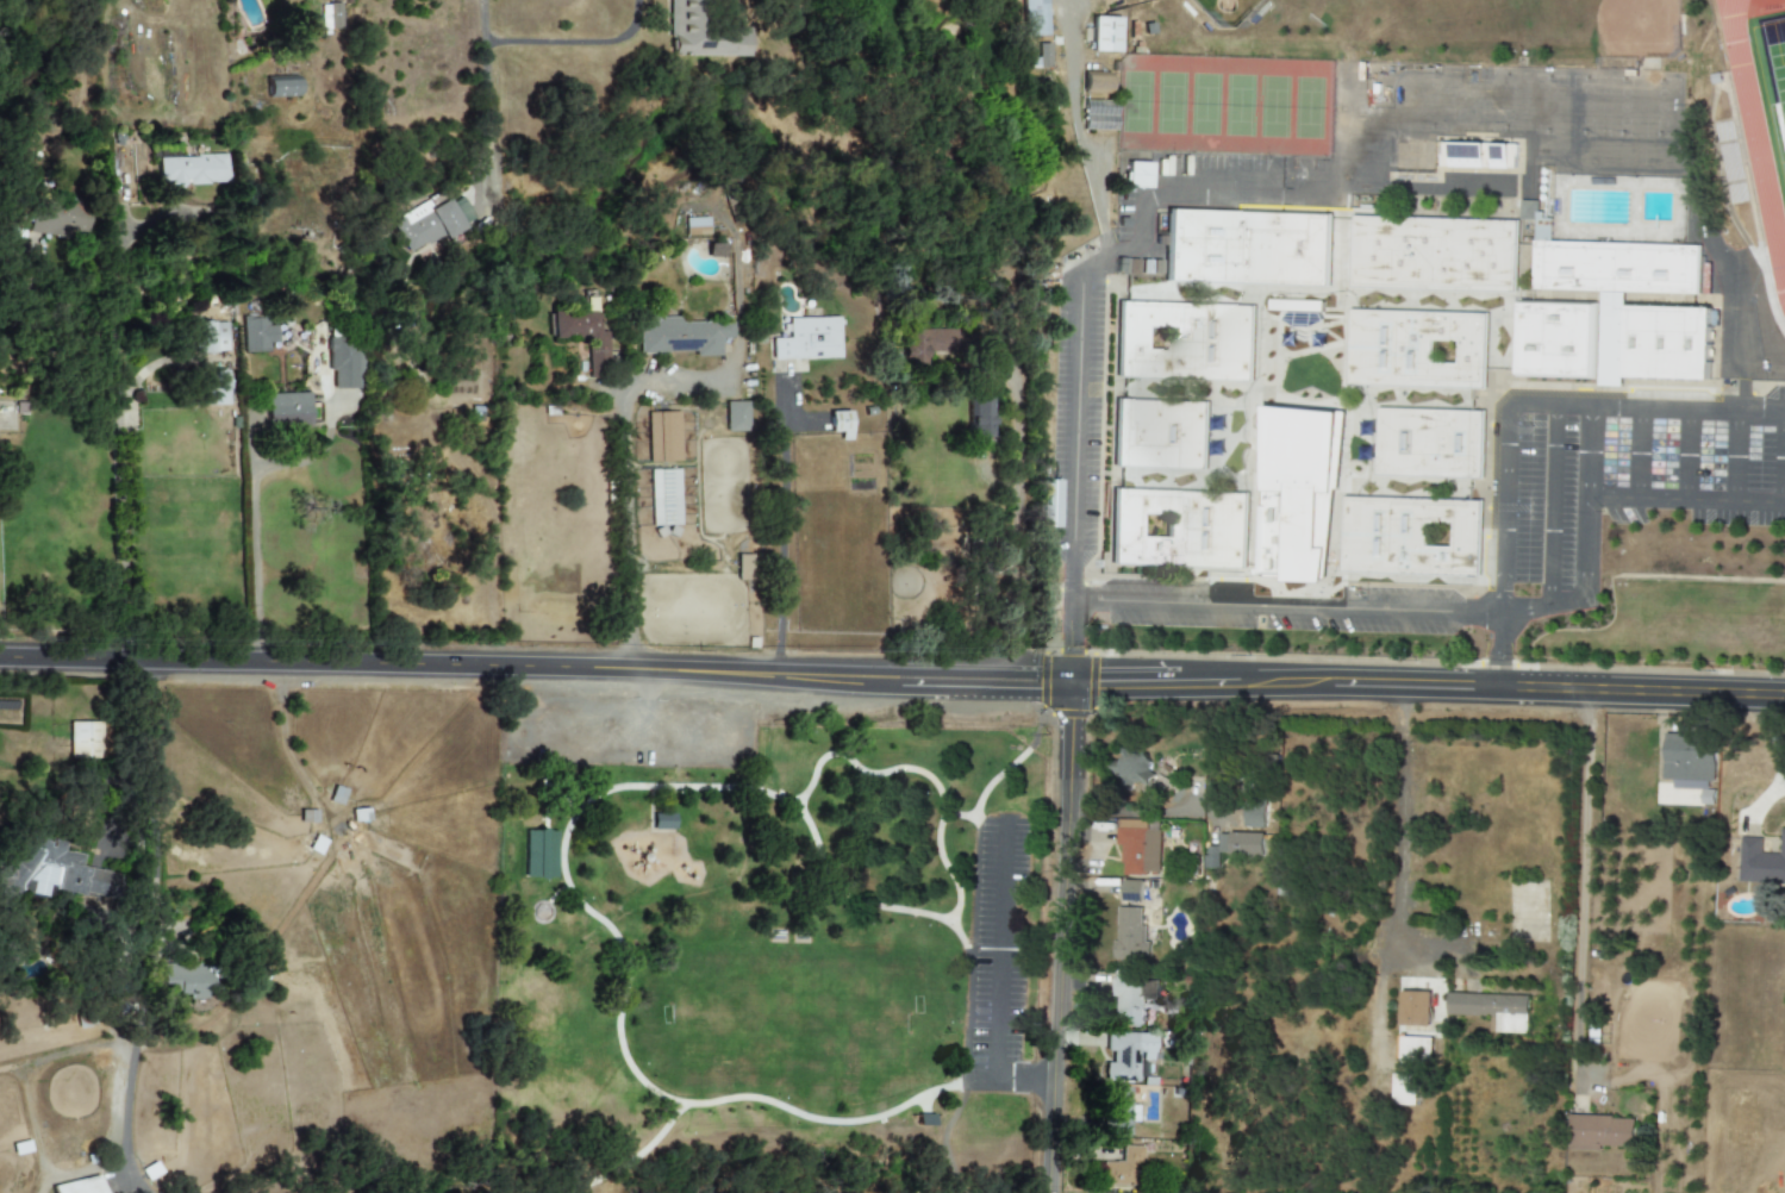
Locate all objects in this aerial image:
road: (121, 0)
building: (330, 17)
building: (1032, 18)
road: (482, 21)
building: (700, 33)
building: (1105, 35)
road: (575, 46)
park: (1777, 57)
building: (1096, 82)
building: (281, 86)
road: (481, 110)
track: (1754, 142)
building: (1477, 155)
building: (1403, 158)
building: (1423, 158)
building: (189, 170)
building: (1137, 175)
road: (1313, 189)
road: (919, 219)
building: (58, 220)
building: (432, 225)
building: (695, 226)
building: (1247, 246)
building: (713, 251)
building: (1433, 254)
road: (304, 273)
road: (31, 283)
road: (737, 298)
building: (1296, 306)
building: (1611, 312)
road: (13, 323)
road: (114, 335)
building: (257, 335)
building: (680, 336)
building: (213, 337)
building: (585, 338)
building: (807, 339)
building: (1184, 342)
building: (929, 344)
building: (1417, 349)
building: (344, 362)
building: (214, 388)
road: (1548, 404)
building: (979, 408)
road: (1687, 408)
building: (286, 410)
building: (736, 417)
building: (840, 424)
building: (1159, 435)
building: (663, 437)
building: (1429, 443)
road: (1637, 452)
road: (1685, 454)
road: (1734, 456)
road: (1784, 457)
road: (626, 480)
building: (664, 498)
road: (1686, 500)
road: (1586, 501)
building: (1048, 504)
road: (1550, 505)
road: (1505, 507)
road: (254, 508)
road: (120, 529)
building: (1178, 529)
road: (781, 530)
building: (1410, 536)
building: (743, 567)
road: (1543, 606)
road: (1325, 608)
road: (1076, 641)
traffic signals: (1076, 645)
road: (536, 666)
traffic signals: (1121, 675)
traffic signals: (1034, 680)
road: (1428, 686)
parking lot: (623, 731)
road: (659, 731)
traffic signals: (1073, 731)
building: (83, 741)
road: (1779, 755)
road: (113, 758)
building: (1690, 763)
building: (1130, 767)
road: (1004, 770)
road: (920, 773)
road: (674, 776)
road: (959, 814)
building: (1254, 816)
building: (663, 822)
road: (1400, 832)
building: (317, 844)
building: (348, 844)
building: (1140, 847)
building: (1234, 847)
building: (539, 854)
building: (1760, 861)
building: (64, 872)
road: (1581, 880)
road: (569, 887)
building: (1130, 891)
road: (154, 914)
building: (1129, 932)
road: (1061, 933)
road: (999, 949)
park: (764, 951)
parking lot: (994, 956)
building: (188, 979)
building: (1129, 998)
building: (1415, 1008)
building: (1493, 1010)
park: (788, 1018)
building: (1413, 1049)
building: (1129, 1055)
road: (1024, 1078)
building: (1404, 1089)
building: (1119, 1111)
building: (925, 1119)
building: (1599, 1132)
road: (637, 1154)
road: (949, 1158)
building: (1124, 1169)
building: (73, 1173)

